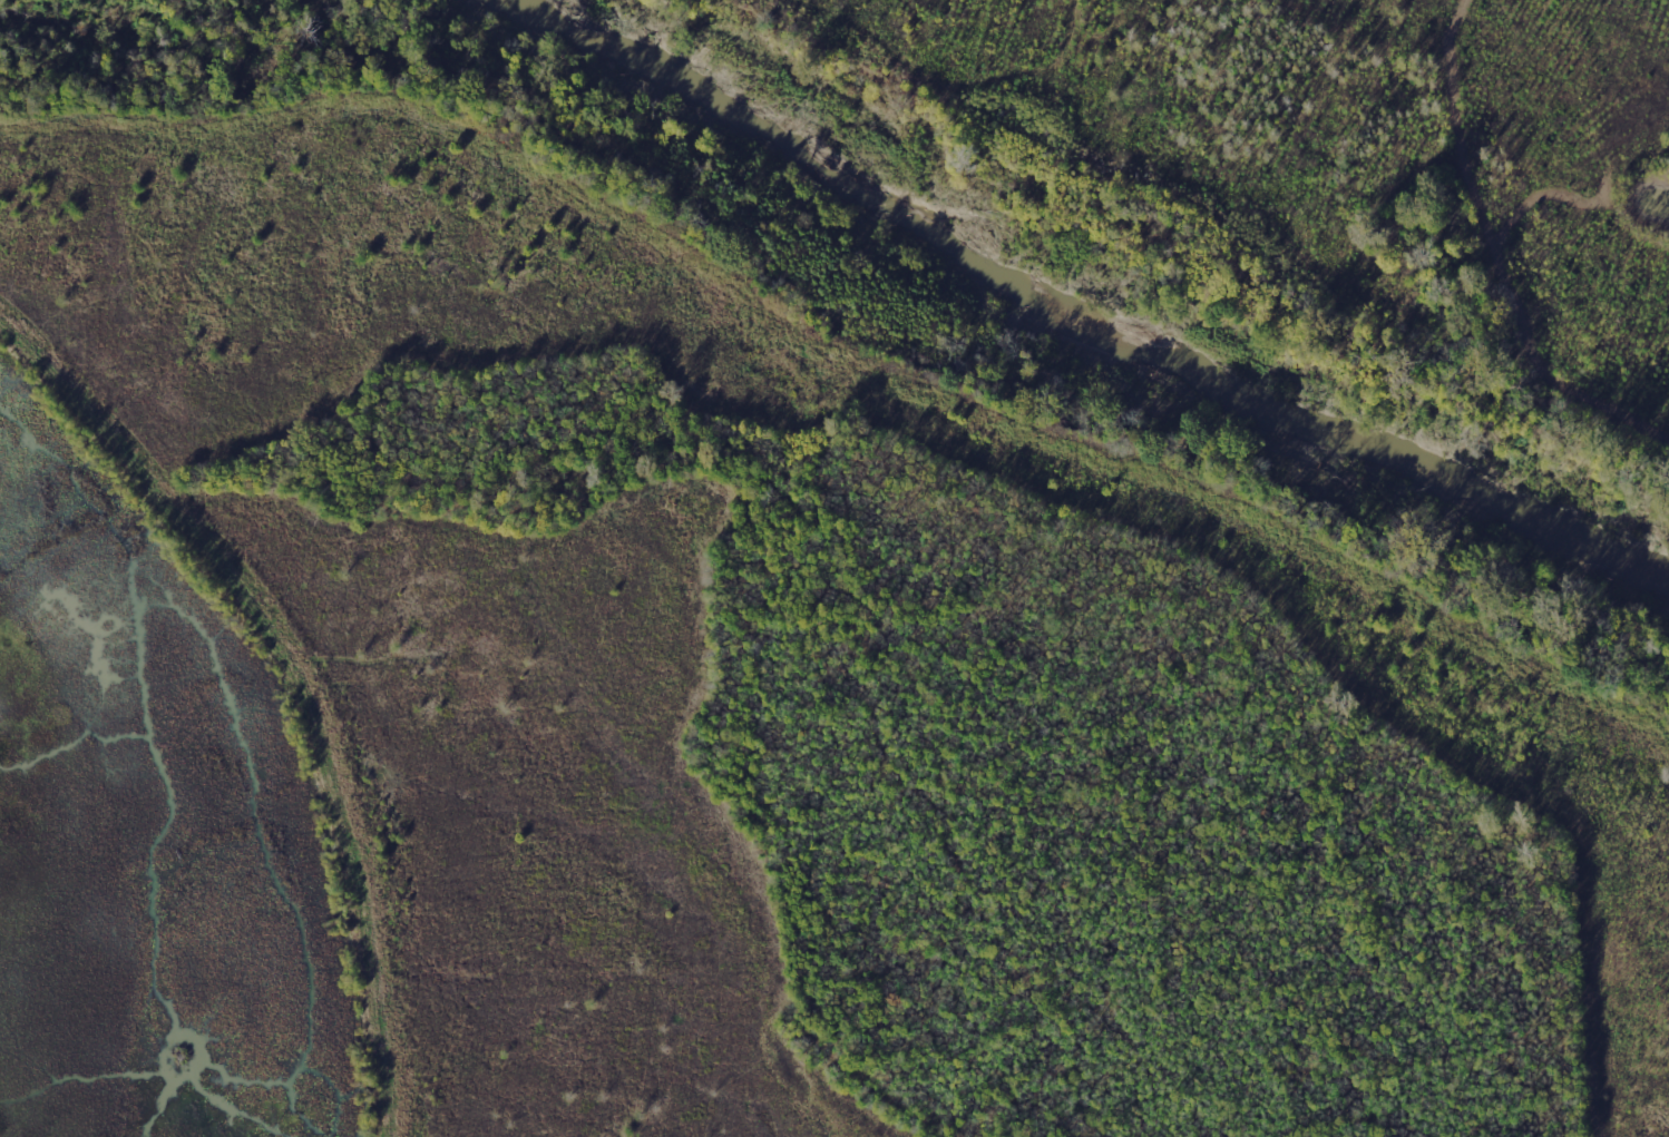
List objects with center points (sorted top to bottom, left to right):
river: (1105, 292)

